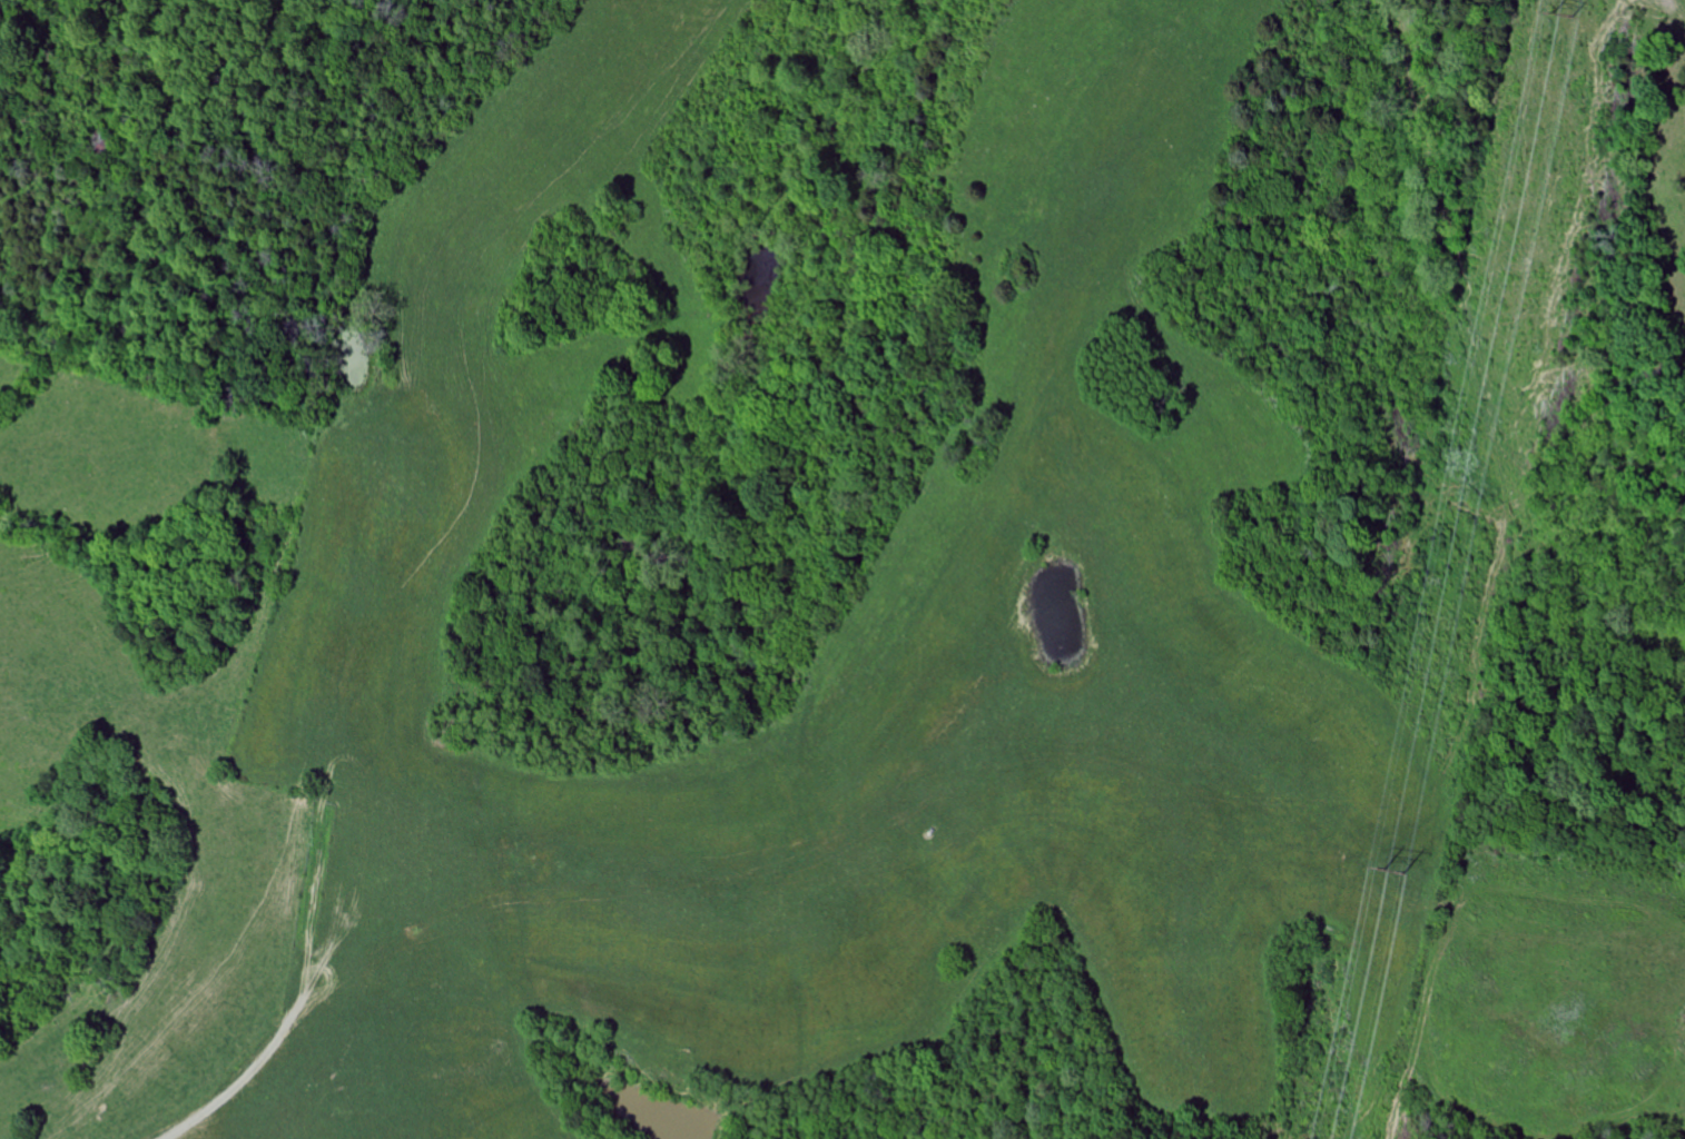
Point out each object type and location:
power tower: (1561, 13)
power tower: (1395, 871)
road: (240, 1078)

